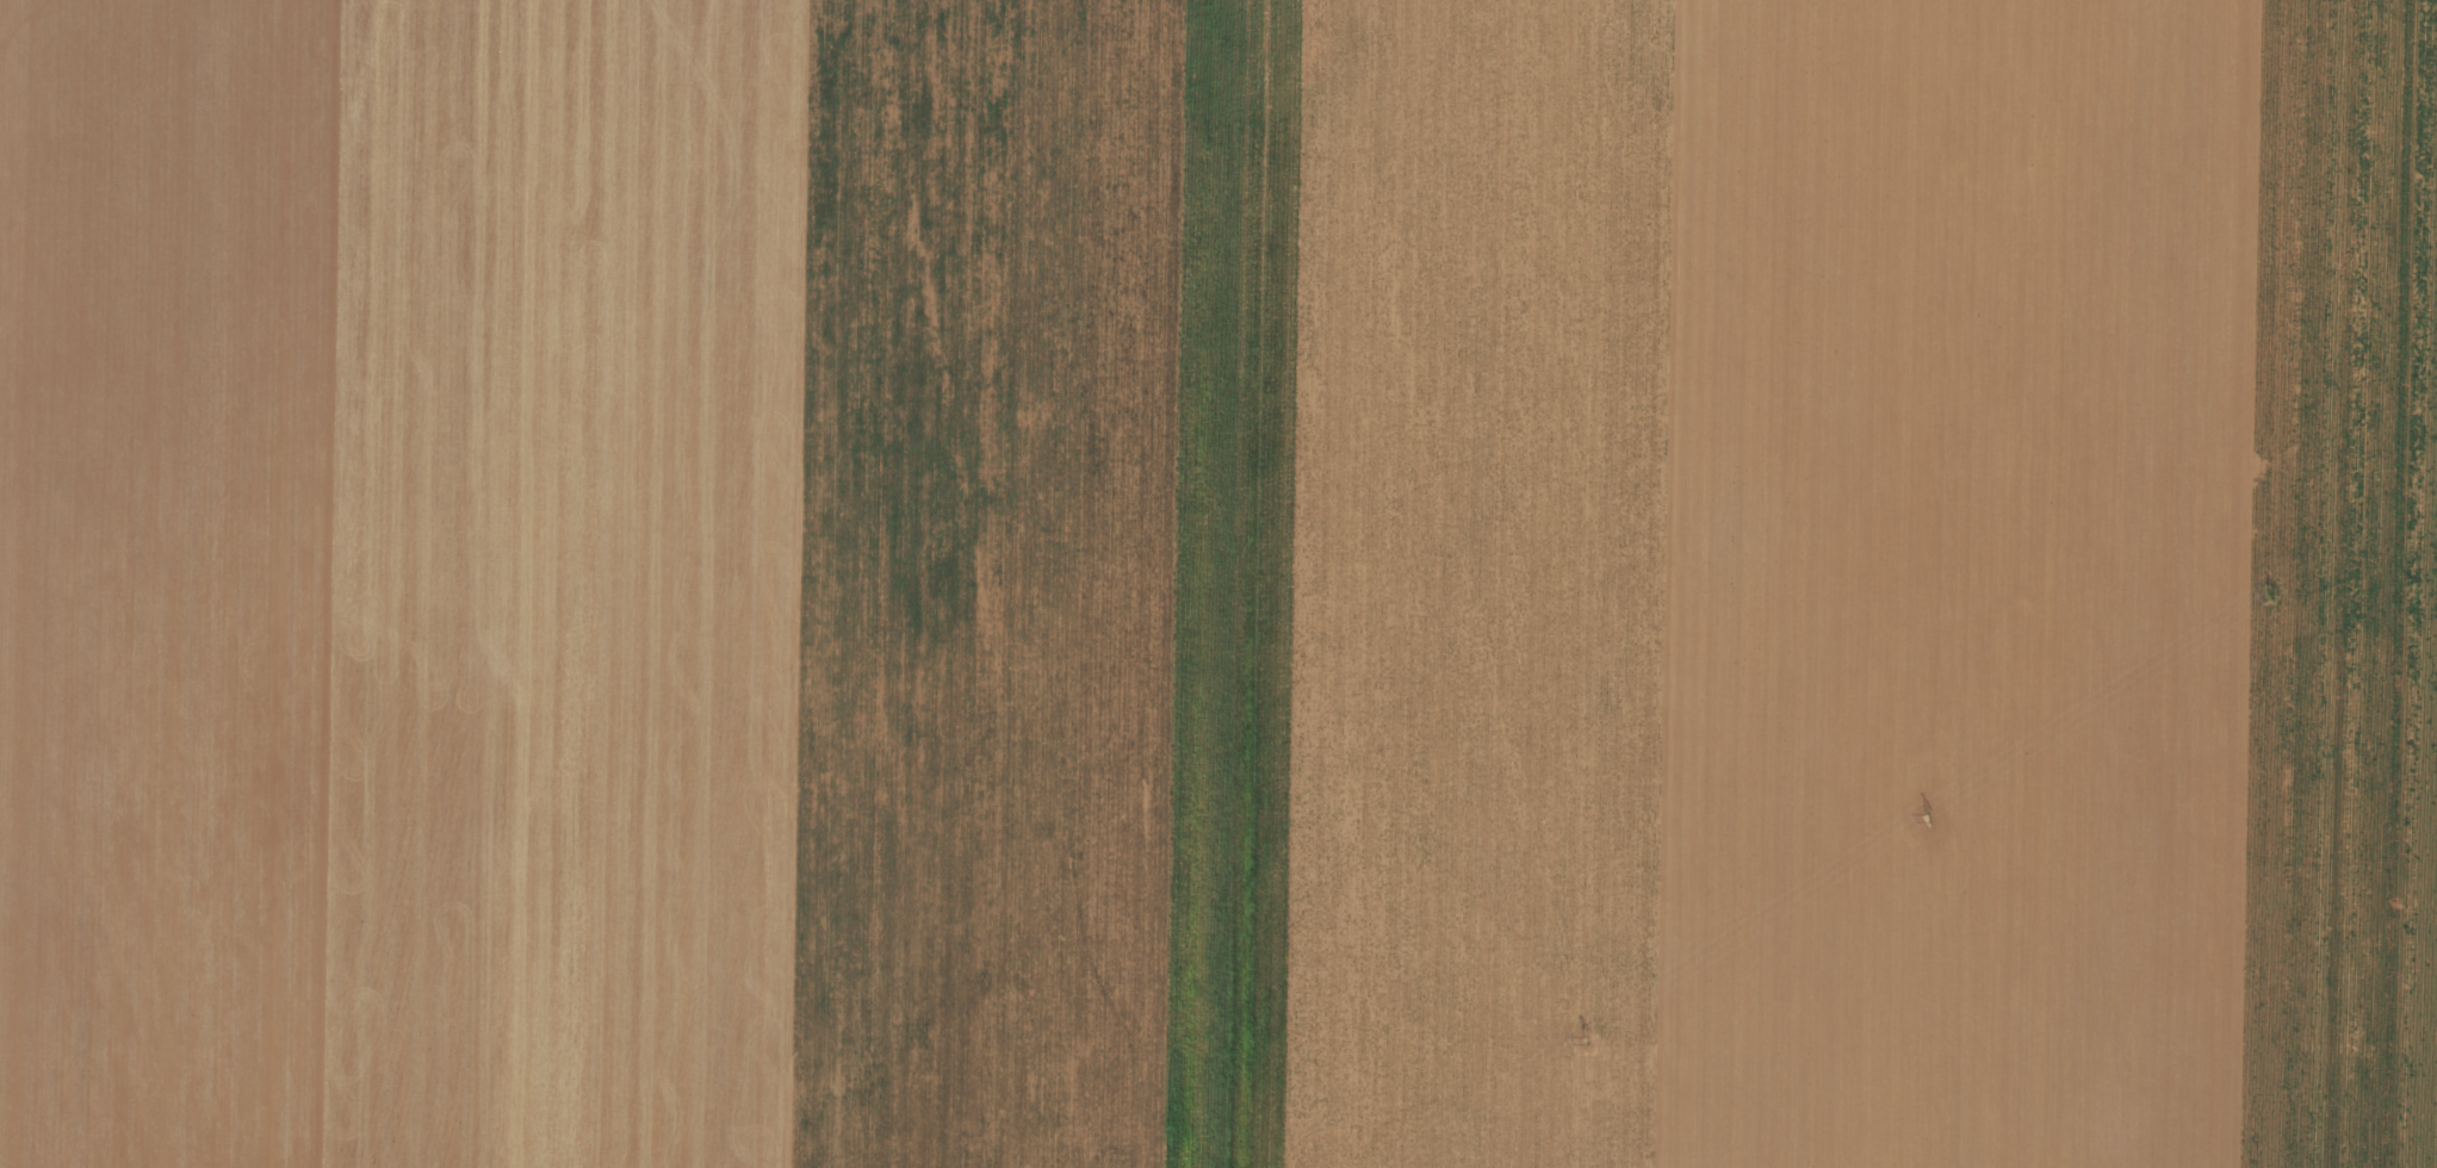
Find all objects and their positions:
power tower: (2271, 590)
power tower: (1926, 815)
power tower: (1586, 1036)

